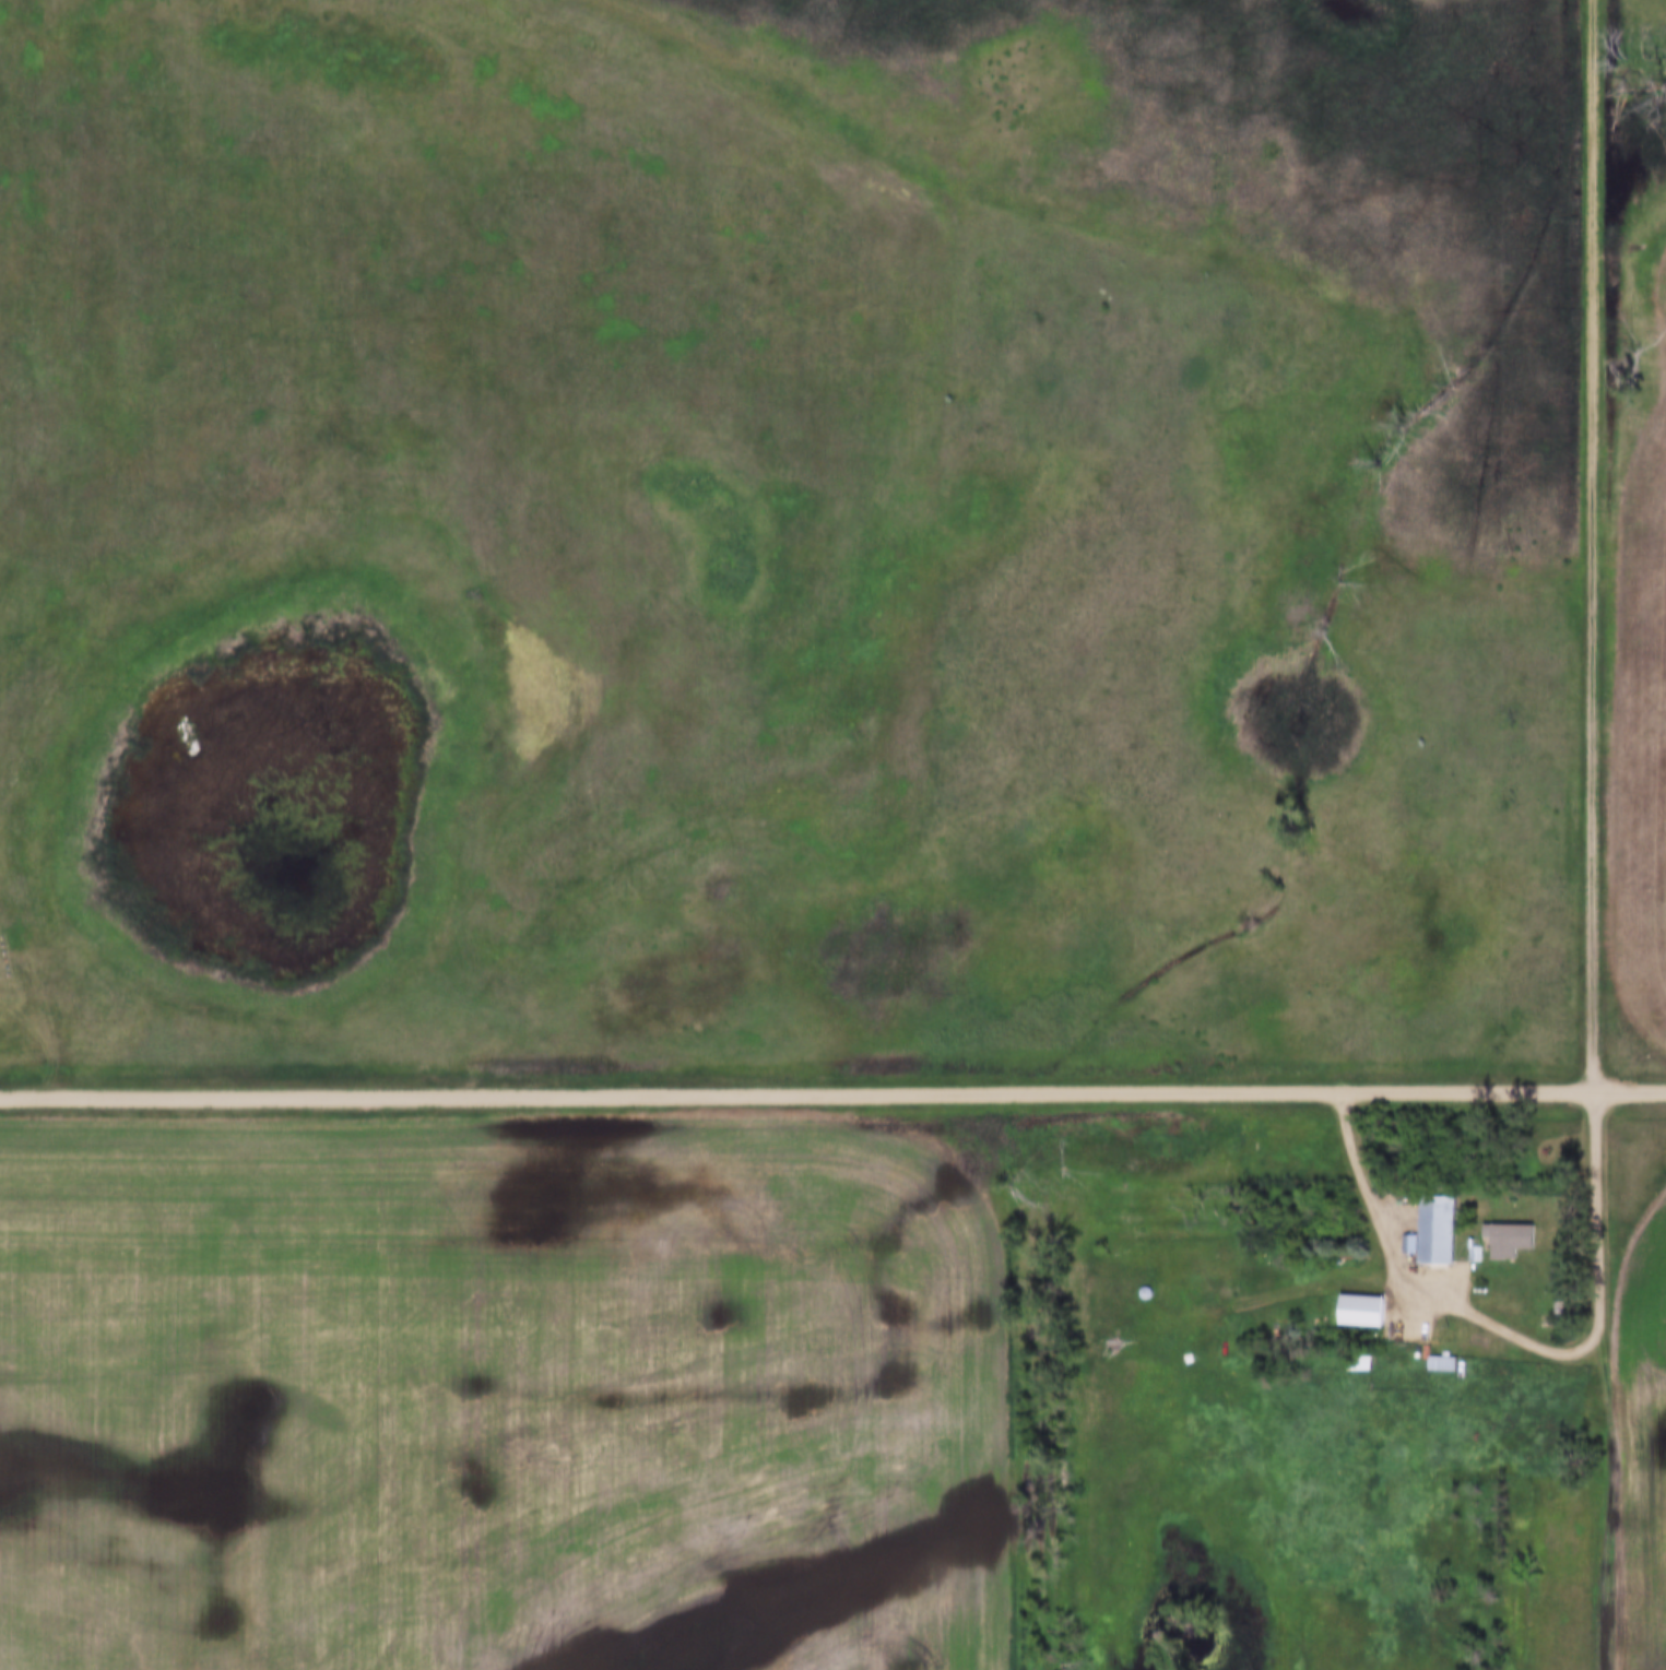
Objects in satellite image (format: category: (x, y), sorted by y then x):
road: (1594, 545)
road: (832, 1093)
road: (1596, 1210)
building: (1438, 1229)
building: (1512, 1240)
road: (1402, 1298)
building: (1362, 1311)
building: (1361, 1363)
road: (1604, 1501)

